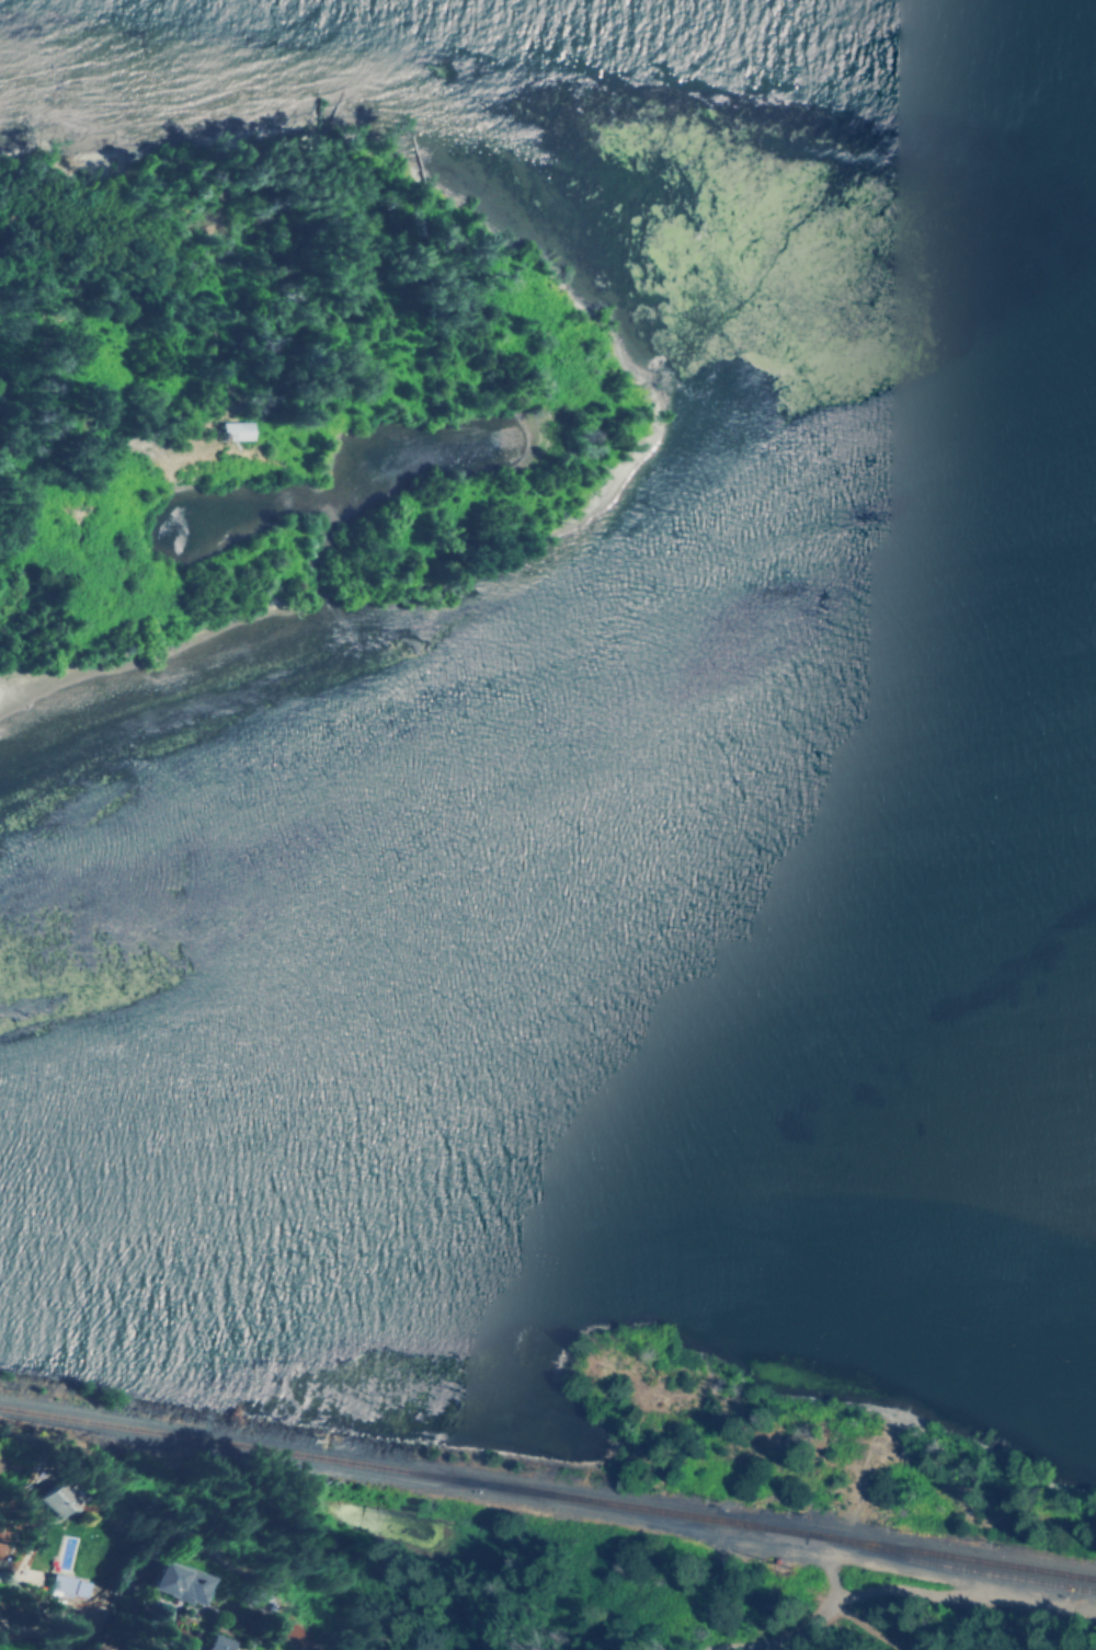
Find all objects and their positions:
building: (237, 431)
railway: (547, 1492)
building: (47, 1500)
road: (852, 1522)
railway: (929, 1561)
building: (180, 1581)
building: (68, 1584)
road: (913, 1592)
park: (608, 1607)
road: (85, 1615)
building: (217, 1642)
park: (80, 1647)

